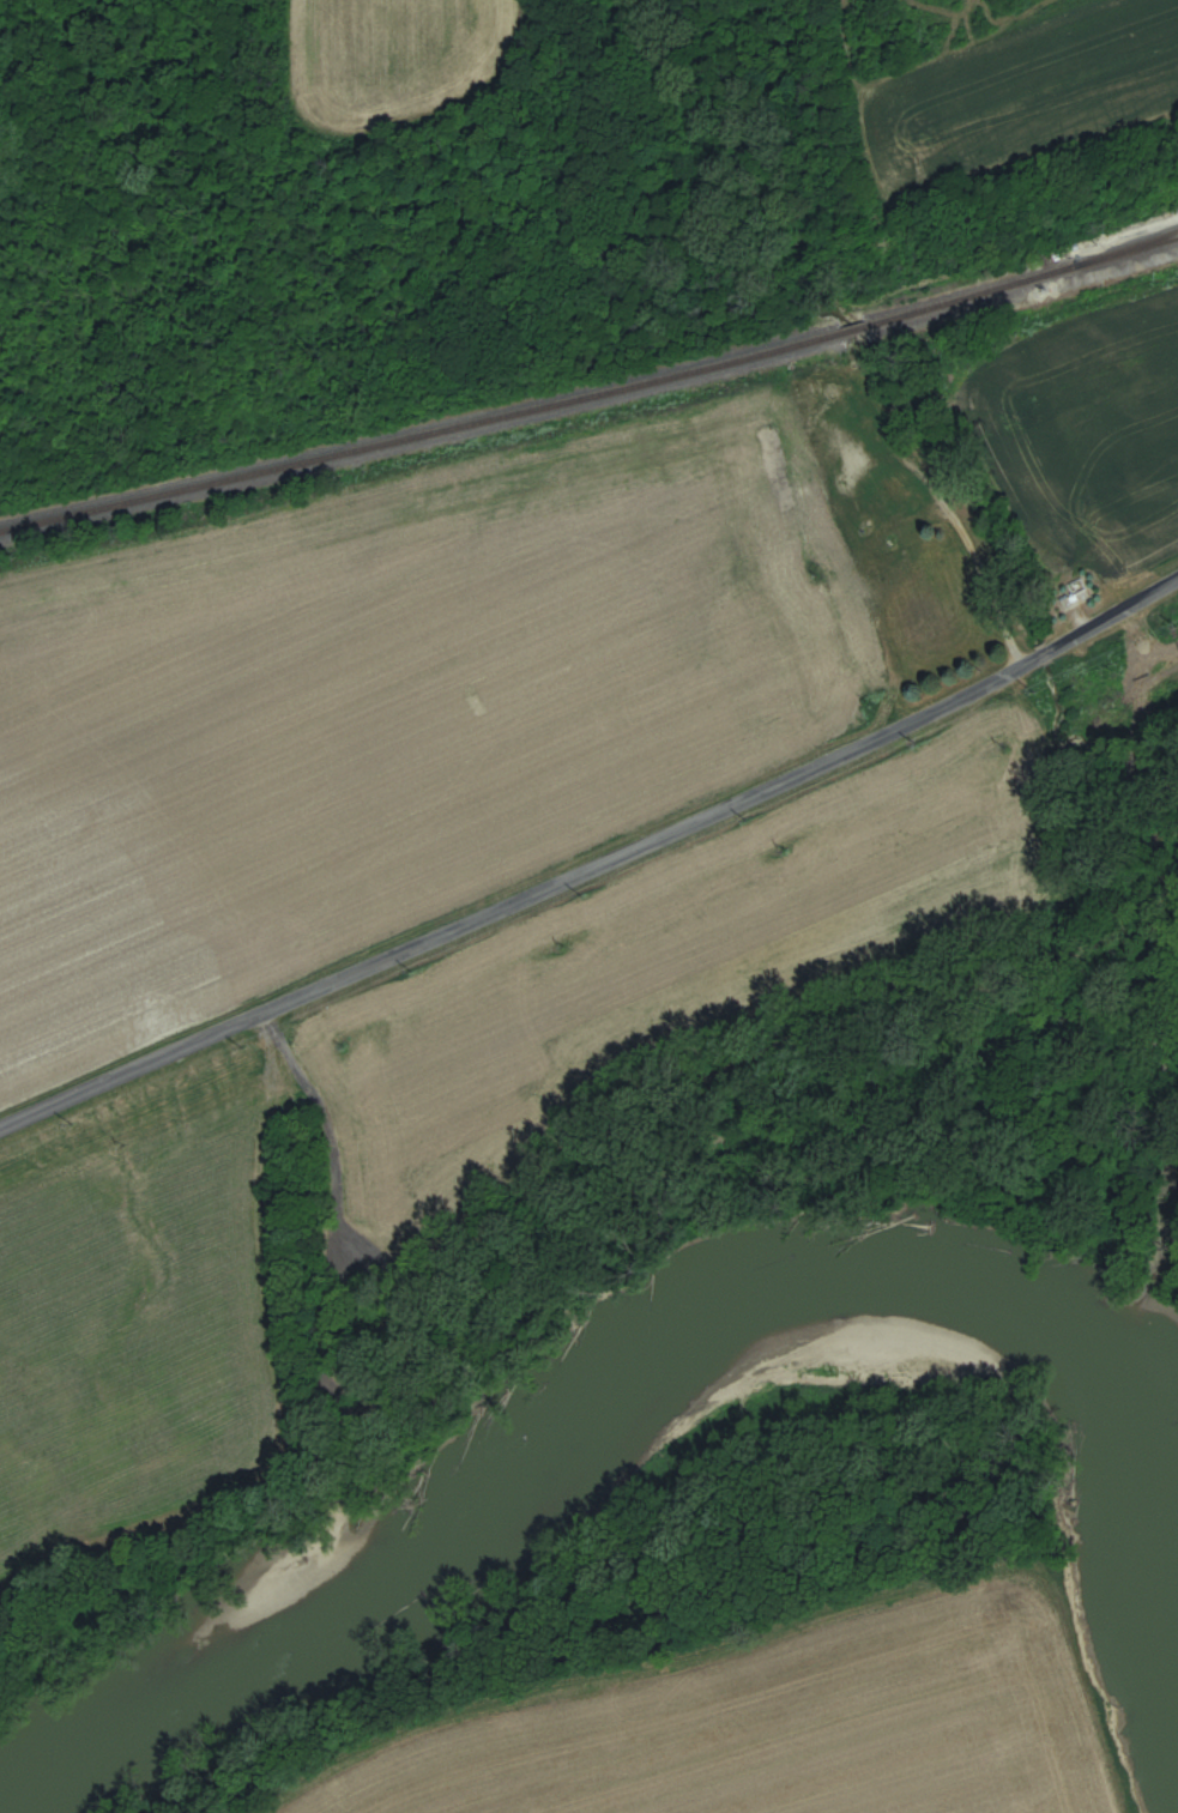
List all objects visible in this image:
railway: (591, 392)
building: (818, 549)
road: (980, 564)
road: (592, 863)
river: (575, 1451)
crop: (797, 1727)

